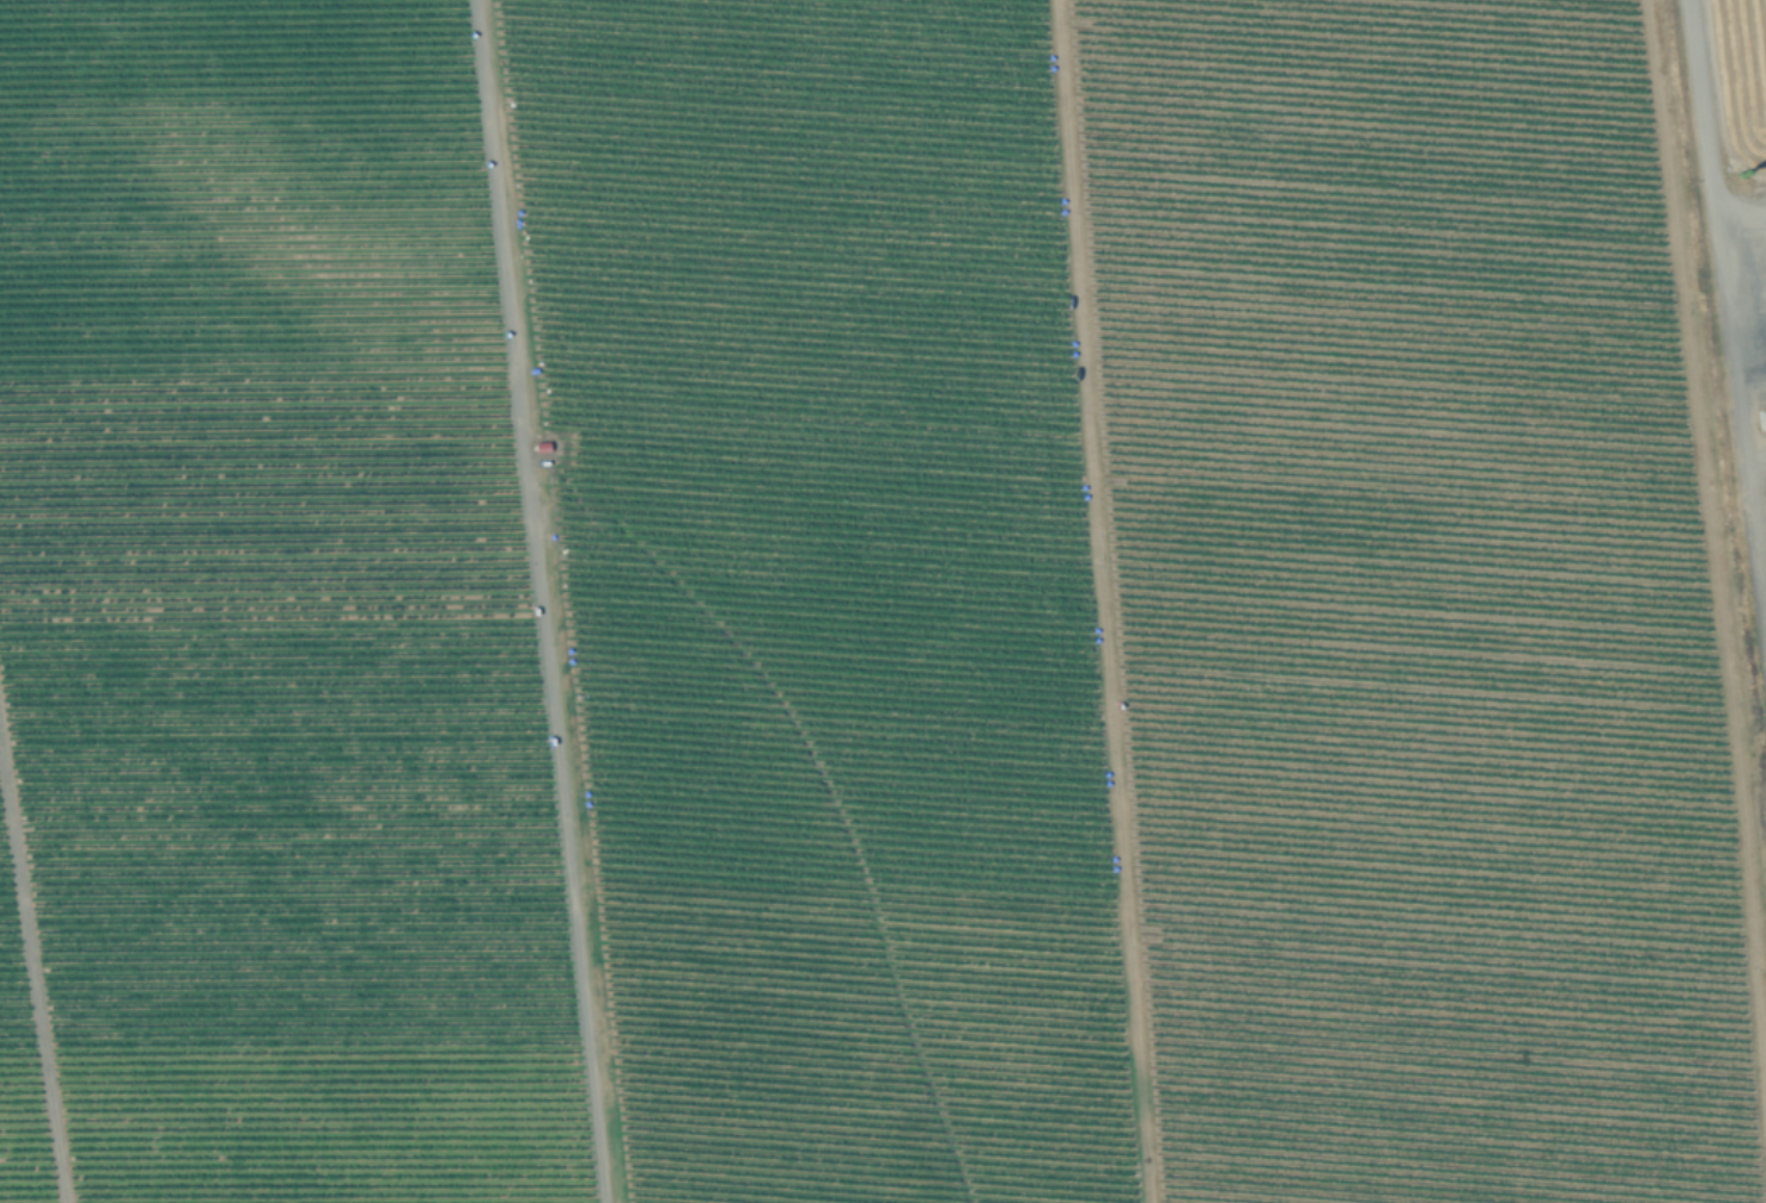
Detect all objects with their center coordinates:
road: (1704, 113)
road: (1742, 222)
road: (1742, 428)
building: (544, 447)
road: (1760, 534)
road: (542, 601)
crop: (882, 601)
road: (32, 974)

